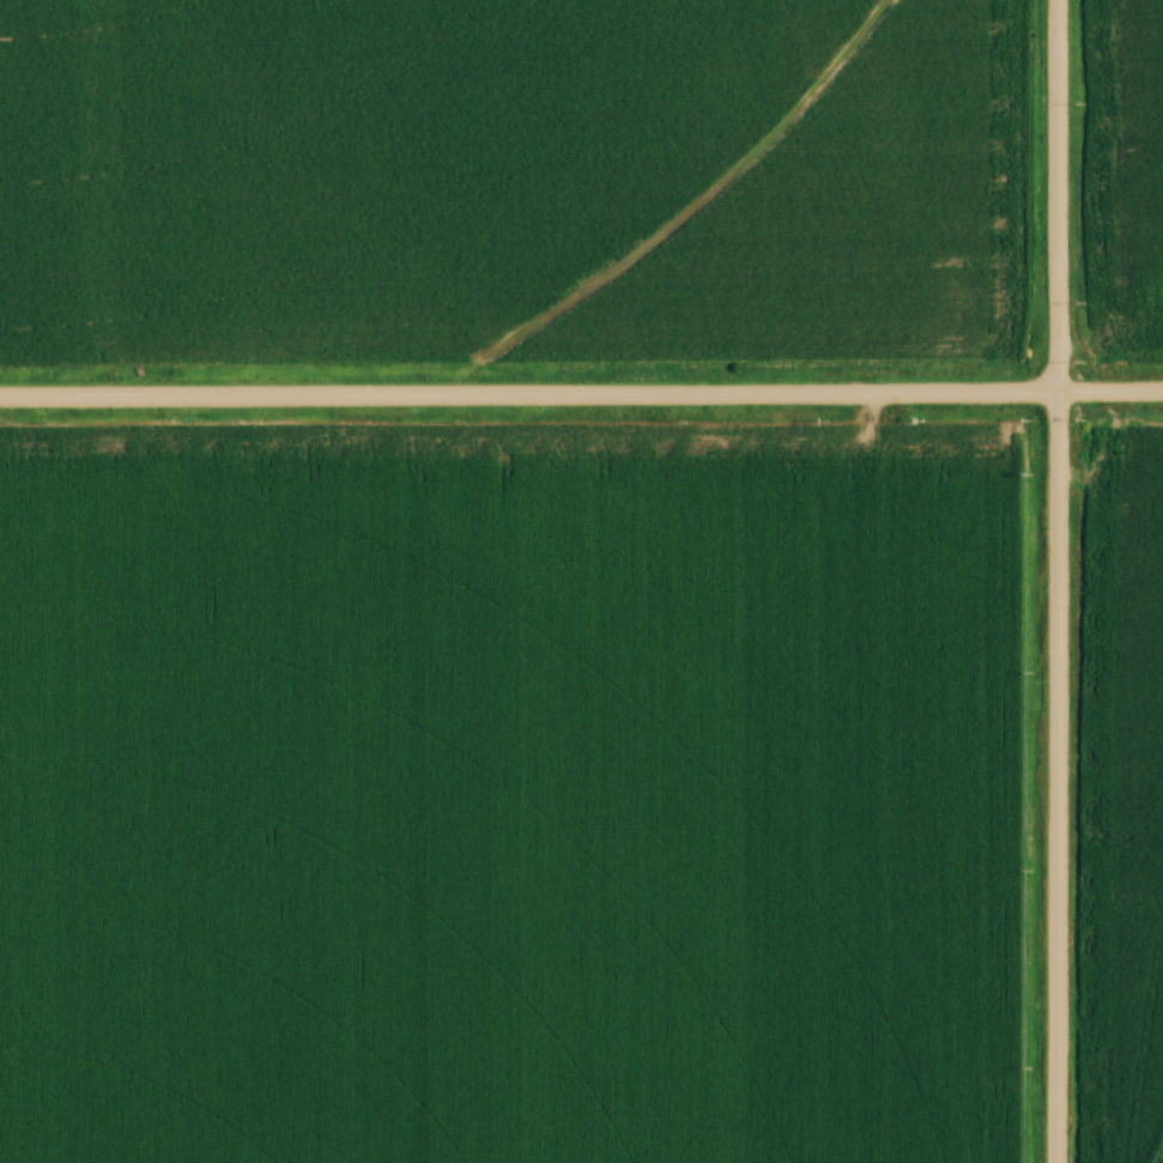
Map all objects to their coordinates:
road: (581, 395)
road: (1058, 581)

